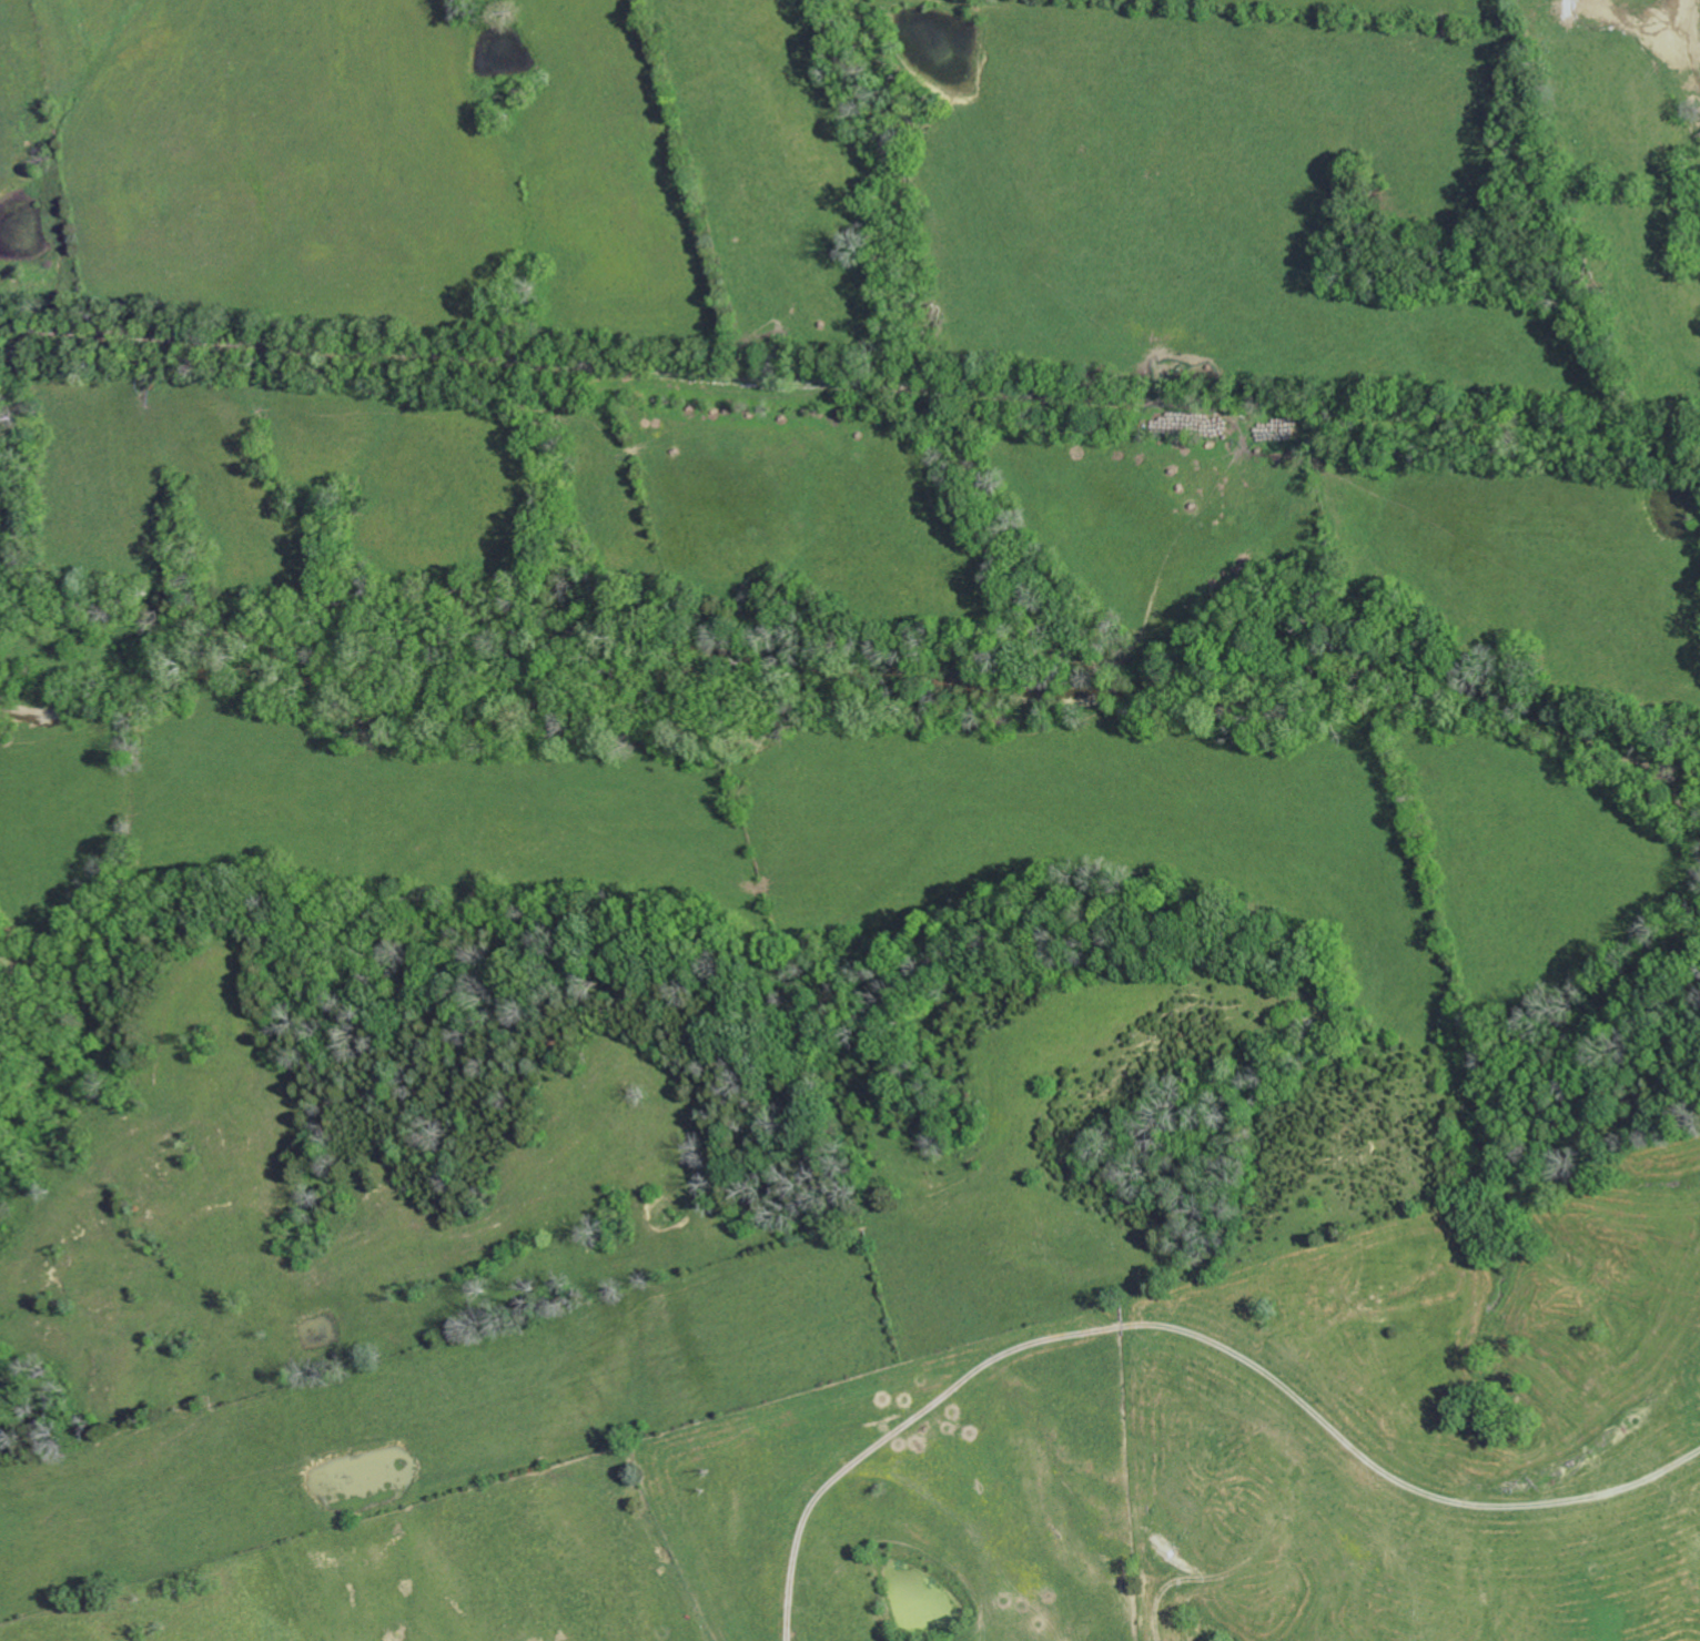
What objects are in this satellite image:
road: (850, 408)
road: (1188, 1341)

